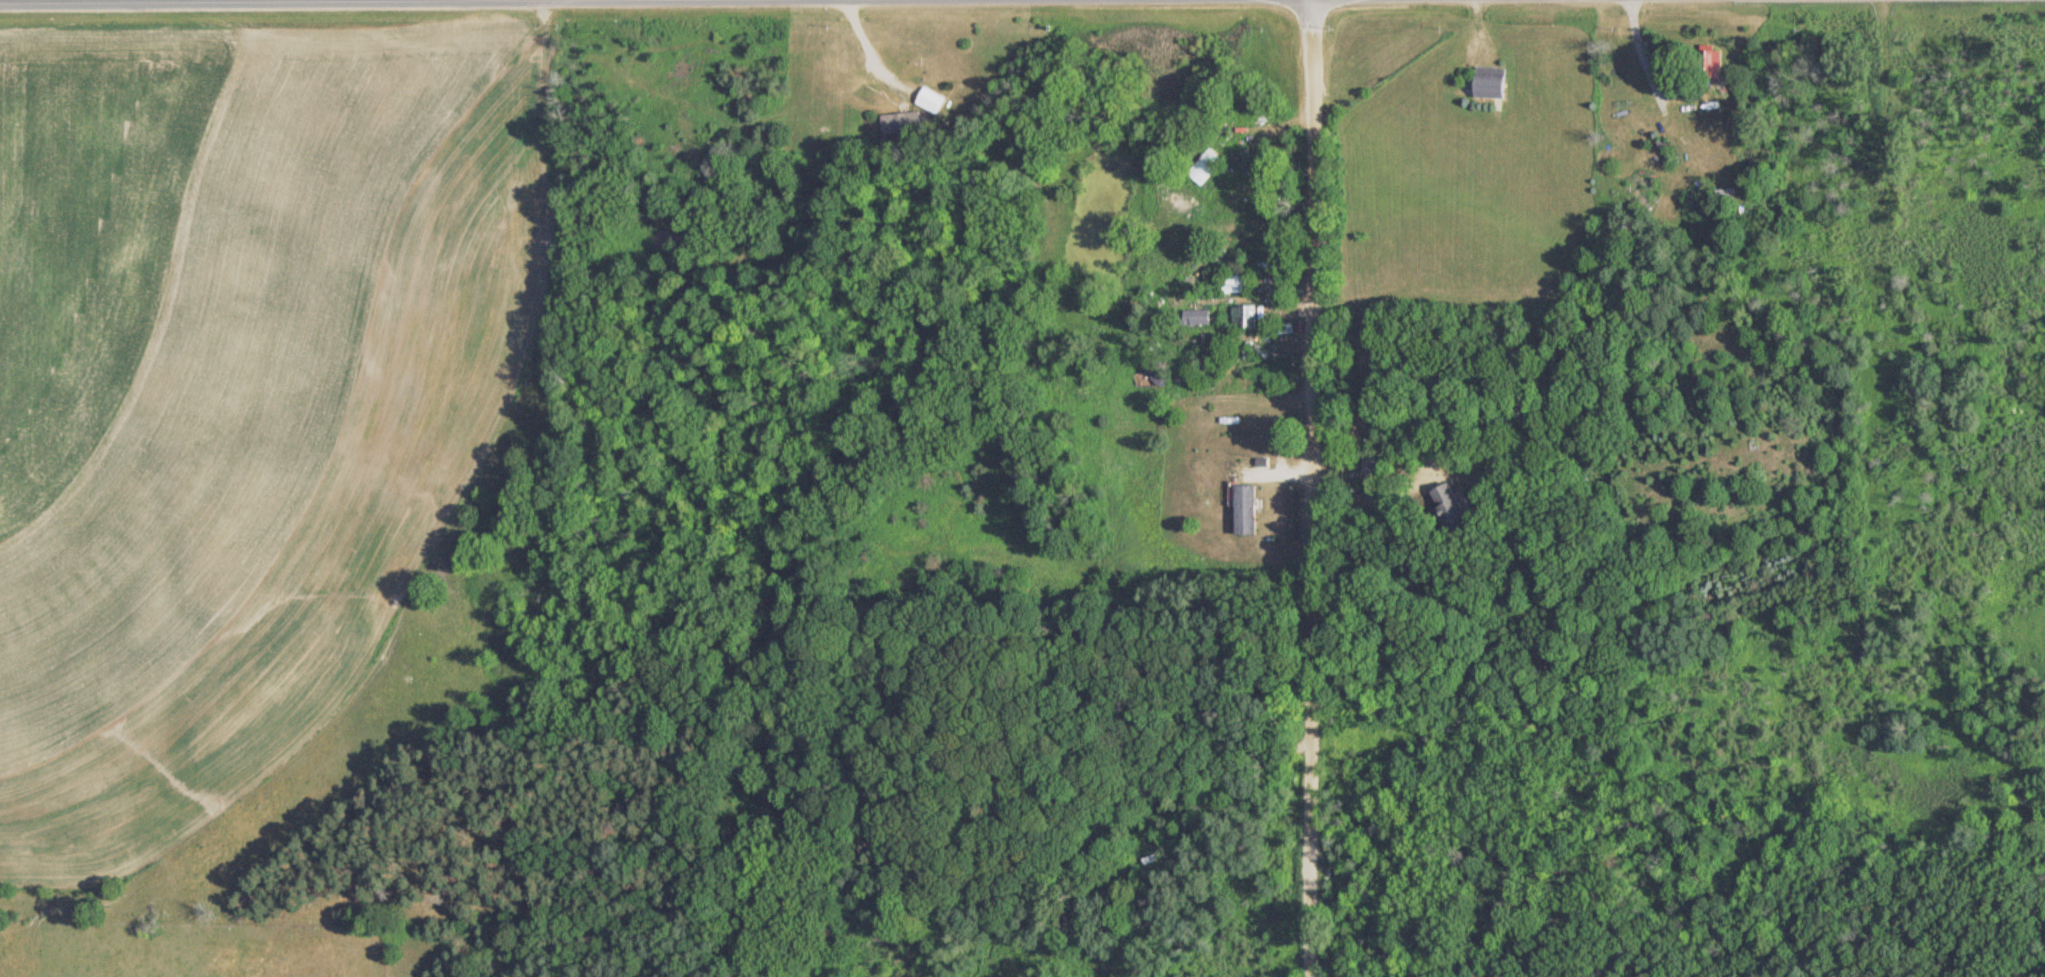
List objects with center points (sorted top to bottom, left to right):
road: (870, 50)
building: (1485, 82)
building: (926, 99)
building: (1201, 166)
building: (1721, 195)
building: (1231, 283)
building: (1241, 316)
building: (1367, 467)
road: (1302, 488)

